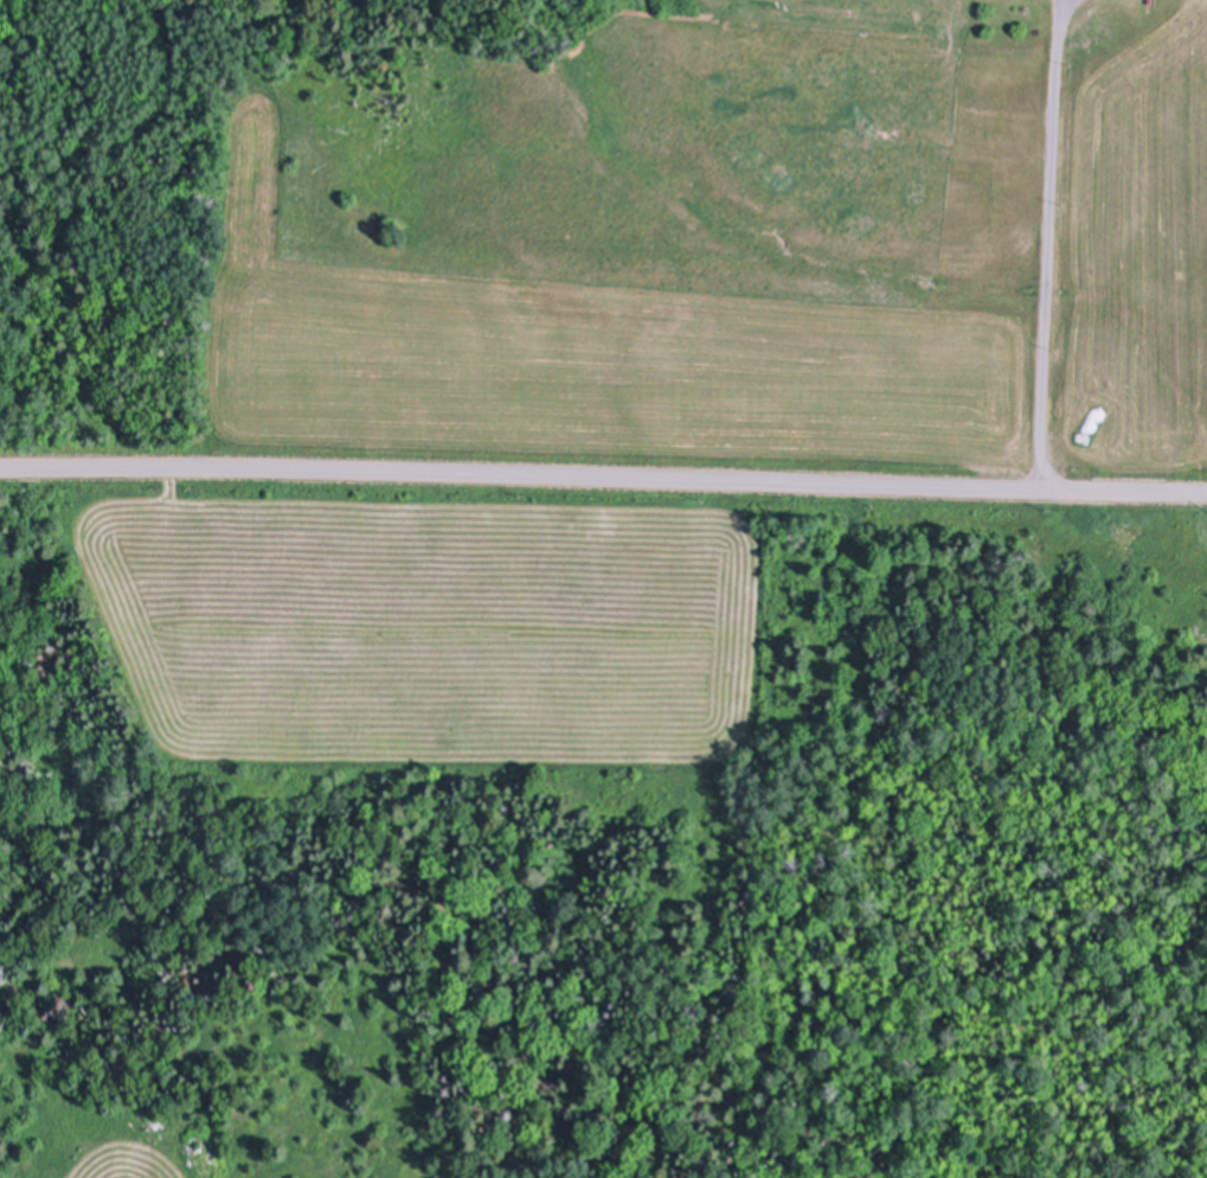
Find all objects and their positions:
road: (1051, 243)
road: (603, 476)

